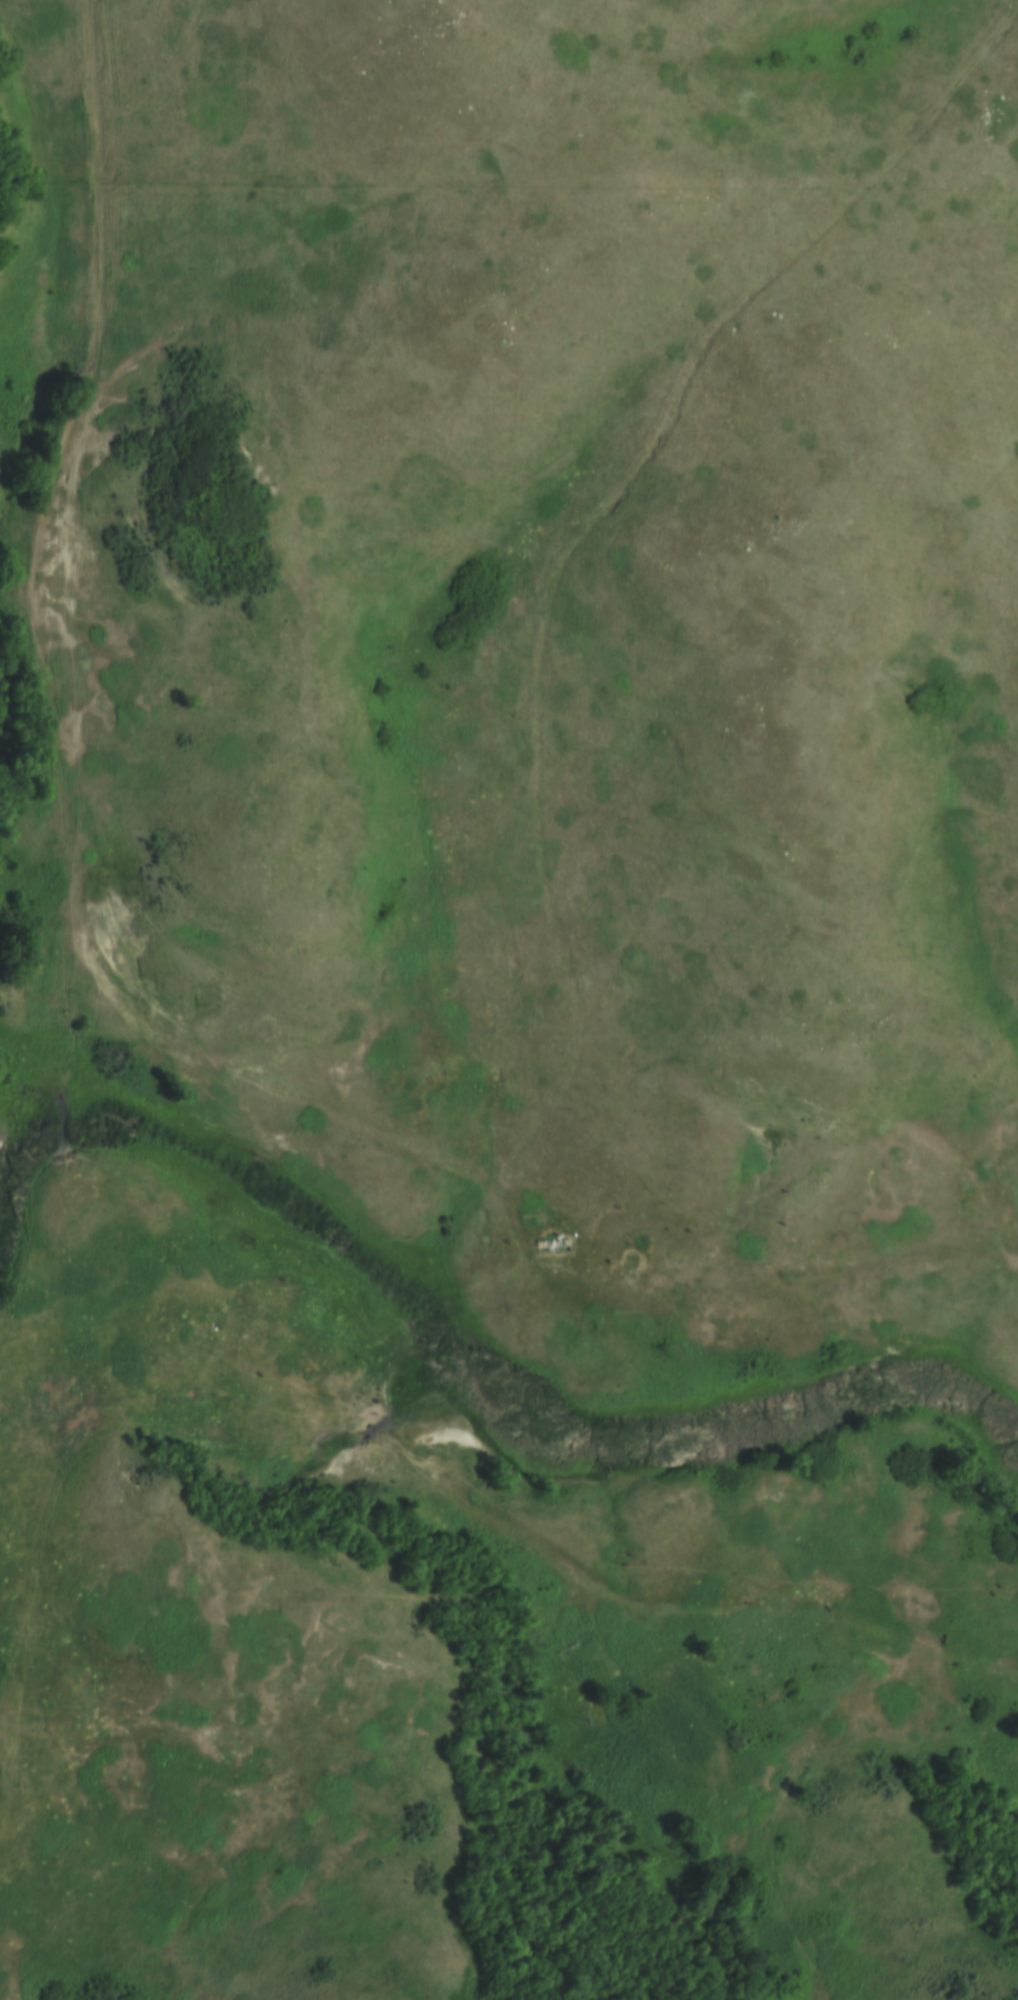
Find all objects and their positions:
building: (553, 1246)

